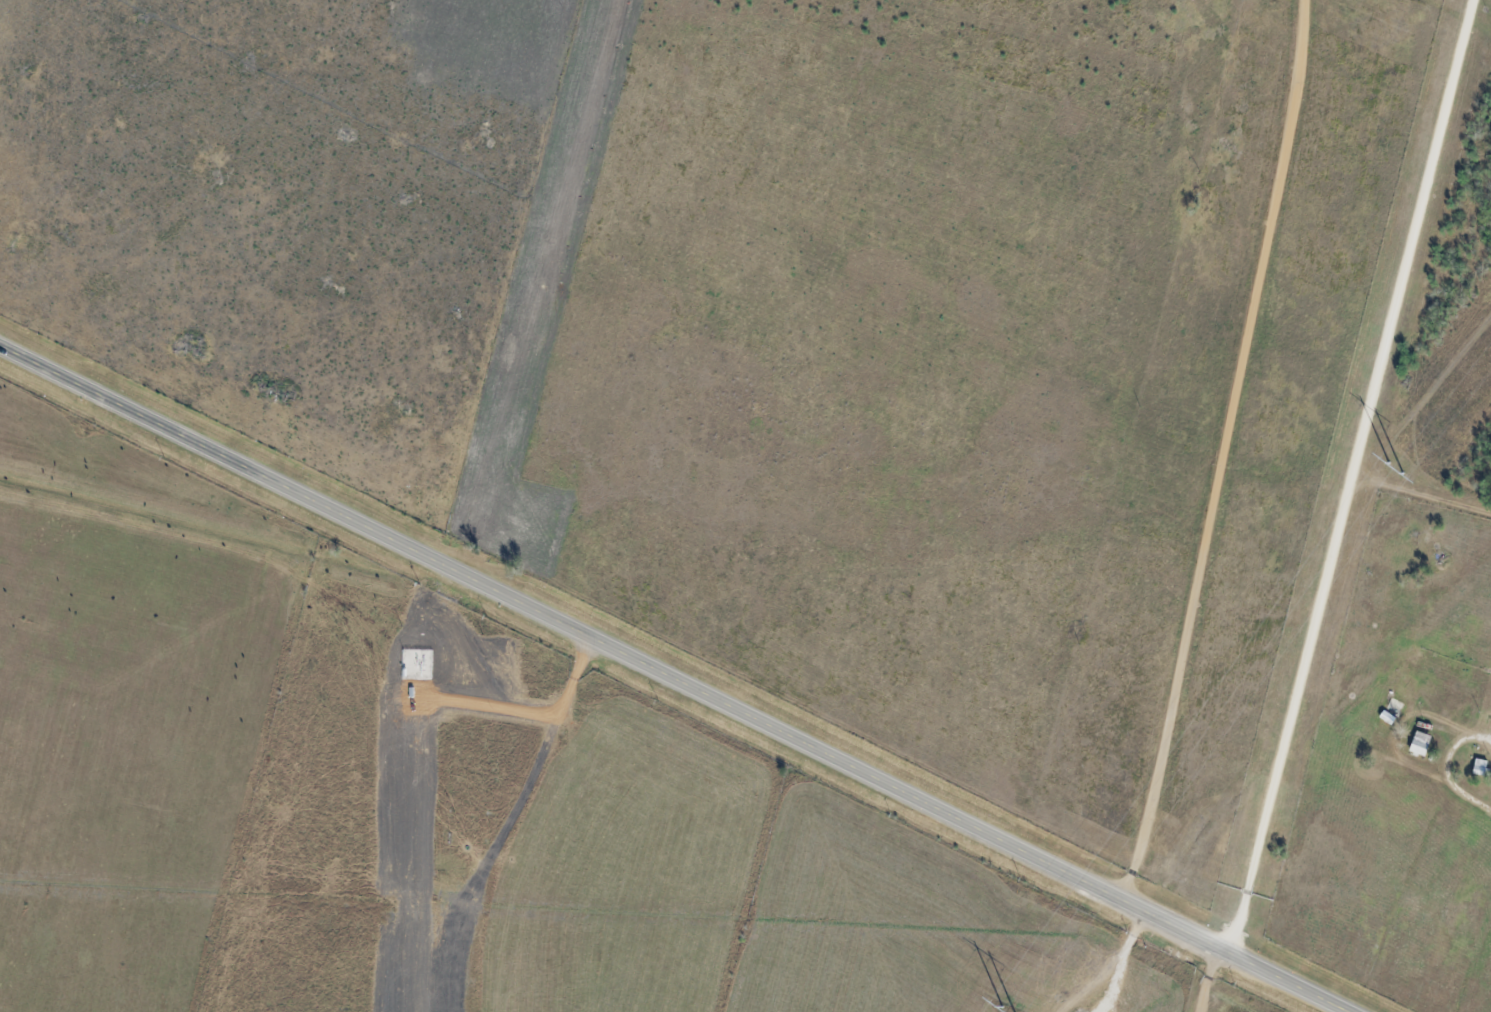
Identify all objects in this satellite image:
road: (1222, 450)
power tower: (1407, 461)
road: (676, 677)
building: (1410, 685)
building: (1400, 707)
building: (1394, 721)
building: (1426, 740)
road: (1212, 979)
power tower: (1018, 1006)

